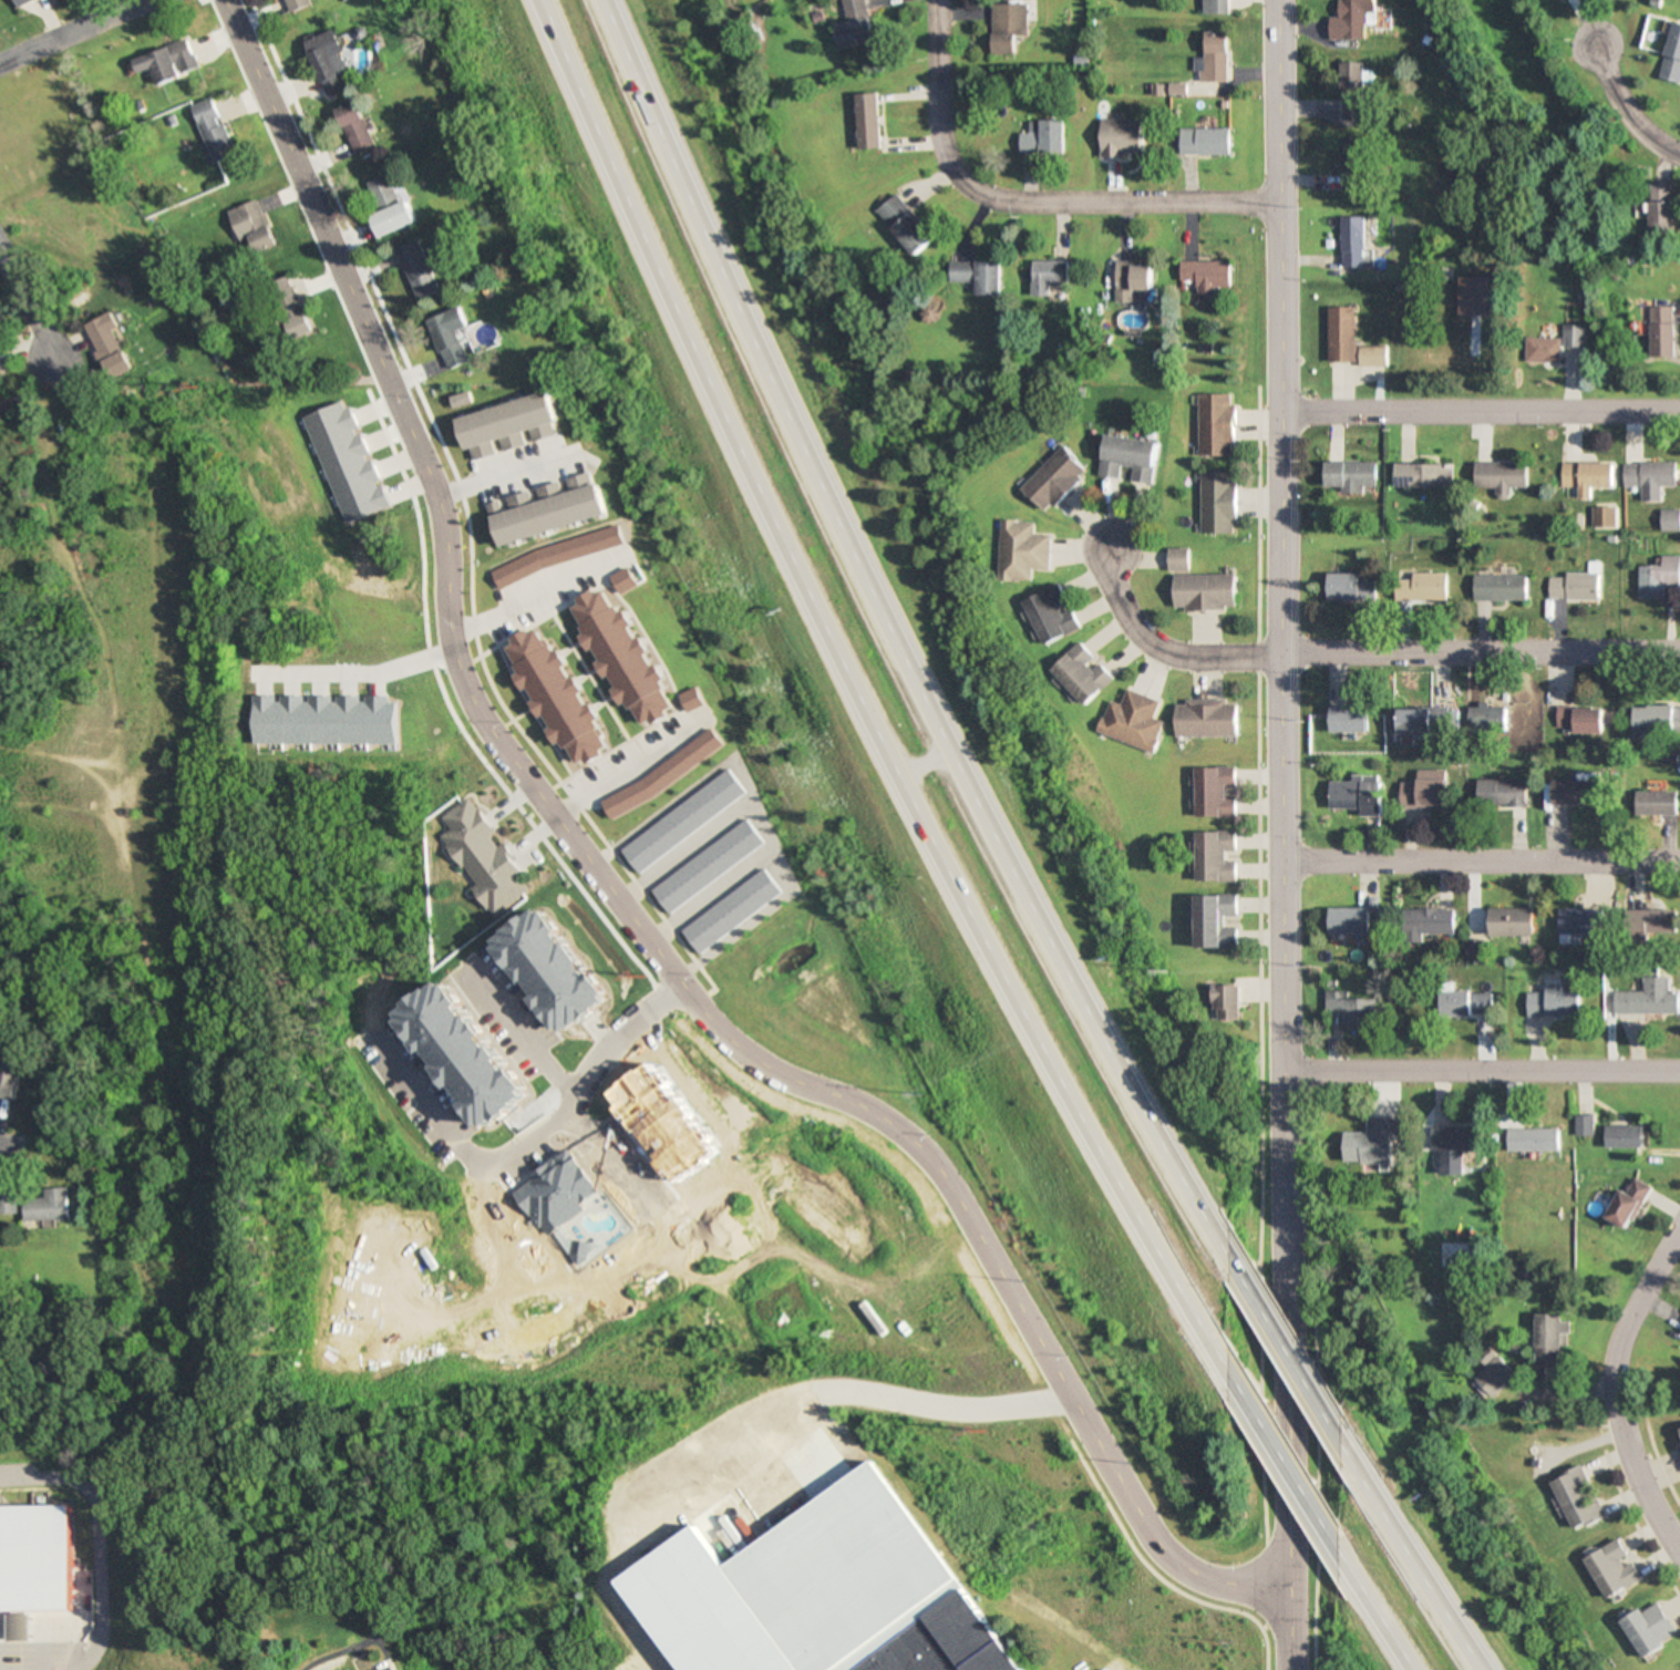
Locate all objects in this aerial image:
building: (20, 1)
building: (296, 4)
building: (1215, 7)
building: (1348, 20)
building: (855, 24)
building: (1009, 27)
road: (71, 30)
building: (1215, 58)
building: (1672, 58)
building: (167, 63)
building: (328, 63)
building: (1349, 92)
road: (1622, 113)
park: (1476, 116)
building: (870, 122)
building: (354, 128)
building: (212, 131)
building: (1044, 138)
building: (1205, 142)
building: (1351, 164)
road: (302, 178)
building: (382, 193)
road: (1021, 202)
building: (1659, 208)
building: (394, 220)
building: (906, 226)
building: (250, 229)
building: (1350, 243)
building: (419, 269)
building: (1206, 276)
building: (978, 277)
building: (1050, 277)
building: (1133, 280)
building: (286, 300)
road: (28, 307)
building: (1659, 332)
building: (451, 337)
building: (1347, 340)
building: (109, 346)
building: (1552, 346)
building: (0, 350)
road: (390, 381)
power tower: (189, 383)
road: (1478, 410)
building: (1215, 424)
building: (1132, 456)
road: (501, 475)
building: (1422, 475)
building: (1350, 476)
building: (1586, 476)
building: (1501, 477)
building: (1648, 477)
building: (1055, 478)
building: (1217, 502)
building: (1602, 516)
building: (1669, 519)
building: (1022, 550)
building: (1178, 558)
building: (1657, 577)
building: (1351, 586)
building: (1574, 586)
building: (1423, 587)
building: (1502, 587)
building: (1206, 591)
road: (534, 597)
building: (1052, 614)
road: (890, 648)
road: (1161, 650)
road: (1480, 652)
building: (1082, 672)
road: (862, 700)
building: (1206, 718)
building: (1492, 718)
building: (1351, 719)
building: (1656, 719)
building: (1132, 720)
building: (1578, 720)
building: (1424, 721)
road: (621, 765)
building: (1425, 790)
building: (1217, 791)
building: (1579, 791)
building: (1501, 793)
building: (1358, 794)
building: (1659, 803)
road: (751, 806)
road: (1280, 835)
road: (679, 852)
building: (1216, 856)
road: (1481, 860)
road: (703, 894)
building: (1217, 920)
building: (1351, 920)
building: (1584, 920)
building: (1430, 921)
building: (1514, 921)
building: (1657, 921)
power tower: (636, 973)
building: (1650, 998)
building: (1229, 1002)
building: (1468, 1002)
building: (1556, 1002)
building: (1354, 1008)
road: (163, 1061)
road: (1482, 1071)
road: (765, 1072)
building: (9, 1078)
road: (571, 1084)
building: (1586, 1125)
road: (102, 1136)
building: (1625, 1136)
building: (1377, 1138)
building: (1536, 1140)
building: (1457, 1146)
building: (1628, 1202)
building: (9, 1203)
building: (49, 1204)
building: (1679, 1329)
building: (1549, 1339)
road: (1297, 1364)
building: (1490, 1373)
road: (1610, 1388)
road: (751, 1429)
power tower: (978, 1431)
building: (1677, 1437)
road: (1291, 1474)
building: (1578, 1496)
road: (83, 1543)
building: (30, 1561)
road: (1419, 1565)
building: (1611, 1568)
building: (862, 1587)
road: (1382, 1620)
building: (1649, 1628)
parking lot: (25, 1657)
road: (32, 1663)

